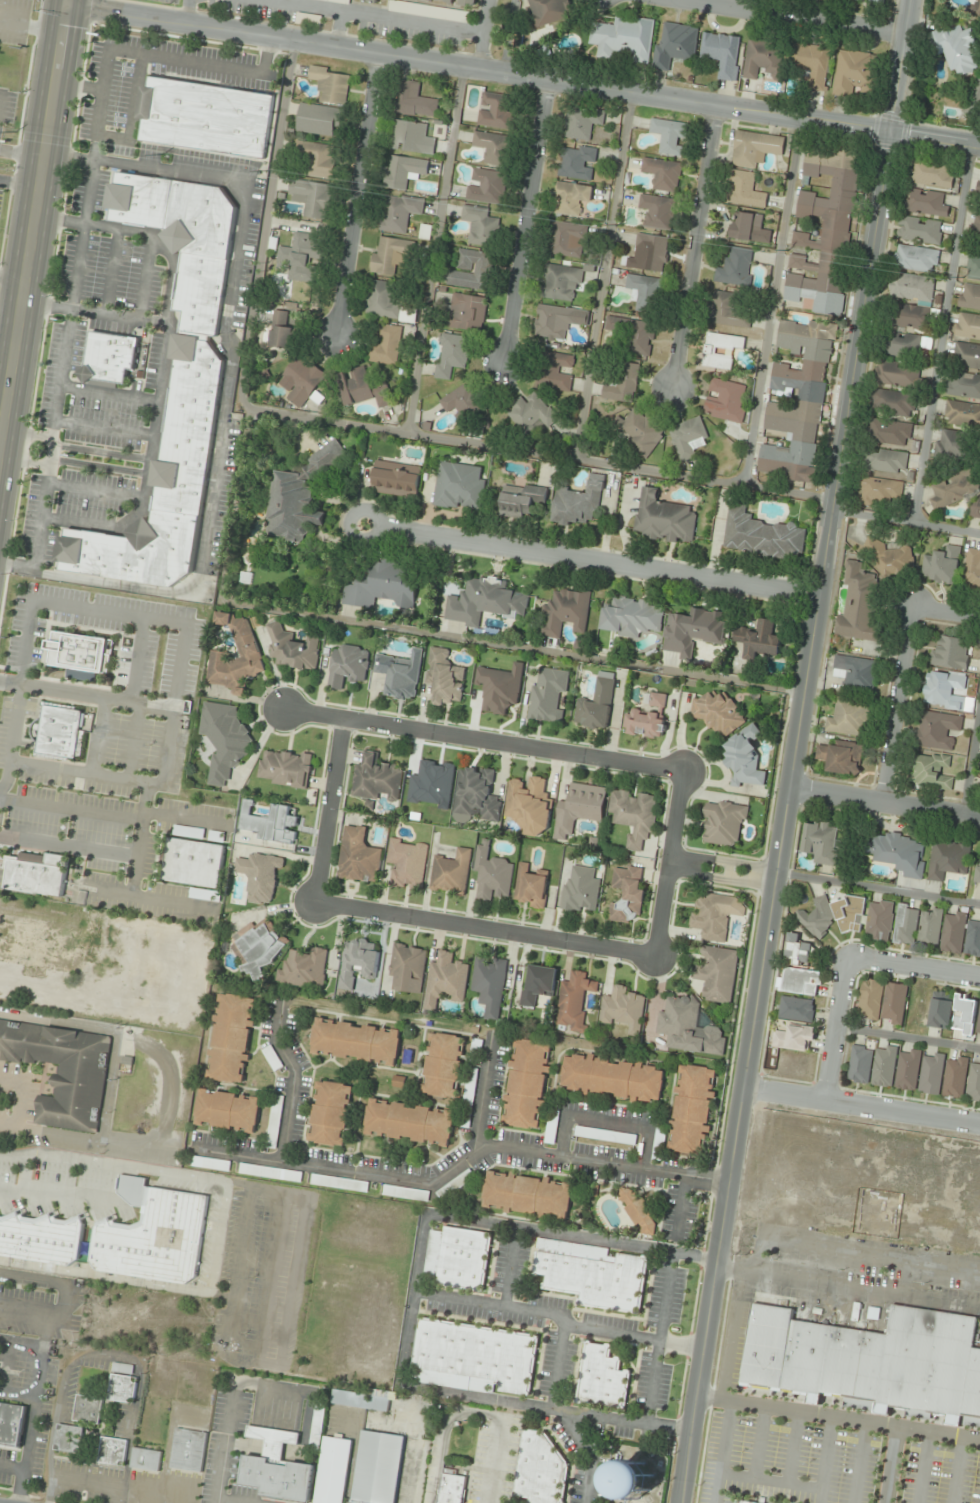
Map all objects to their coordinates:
building: (341, 1)
building: (373, 1)
building: (876, 1)
road: (62, 2)
building: (456, 2)
traffic signals: (70, 4)
building: (975, 8)
road: (187, 11)
building: (430, 11)
building: (549, 11)
road: (370, 17)
road: (801, 18)
road: (479, 35)
road: (502, 37)
building: (624, 38)
building: (676, 44)
building: (954, 49)
building: (723, 53)
building: (764, 59)
building: (813, 64)
building: (853, 72)
road: (524, 78)
building: (332, 84)
road: (80, 86)
road: (0, 95)
building: (973, 96)
building: (415, 101)
building: (496, 110)
road: (131, 114)
building: (204, 117)
building: (320, 120)
building: (582, 123)
building: (670, 136)
building: (411, 137)
building: (491, 147)
building: (756, 148)
road: (23, 153)
building: (319, 158)
building: (577, 162)
road: (145, 167)
building: (404, 171)
building: (662, 173)
building: (930, 174)
road: (20, 182)
building: (978, 184)
building: (488, 186)
building: (747, 190)
road: (355, 194)
building: (313, 197)
building: (572, 198)
building: (924, 202)
building: (658, 211)
building: (400, 212)
road: (523, 221)
building: (745, 224)
building: (481, 225)
building: (973, 227)
road: (35, 229)
road: (82, 229)
building: (918, 230)
building: (825, 233)
building: (568, 239)
road: (693, 247)
road: (435, 249)
building: (653, 251)
building: (391, 254)
building: (301, 258)
building: (914, 258)
building: (735, 267)
building: (973, 268)
building: (472, 270)
road: (110, 272)
road: (598, 274)
road: (14, 277)
road: (143, 277)
building: (560, 281)
building: (911, 287)
building: (645, 292)
building: (969, 297)
building: (384, 301)
road: (771, 302)
building: (729, 310)
building: (467, 312)
road: (94, 313)
building: (907, 317)
building: (554, 321)
building: (967, 326)
building: (281, 330)
building: (634, 334)
road: (937, 334)
building: (387, 345)
road: (8, 346)
building: (903, 346)
building: (721, 350)
building: (452, 355)
building: (966, 356)
building: (108, 358)
road: (163, 363)
building: (559, 371)
building: (897, 374)
building: (304, 381)
building: (623, 384)
building: (963, 385)
building: (362, 389)
road: (108, 395)
building: (725, 400)
building: (798, 401)
building: (465, 402)
building: (893, 403)
building: (192, 410)
building: (532, 413)
building: (961, 414)
road: (354, 421)
road: (102, 429)
road: (2, 430)
building: (642, 432)
building: (889, 432)
building: (688, 438)
building: (953, 446)
road: (75, 448)
building: (80, 449)
building: (885, 461)
road: (73, 463)
road: (214, 470)
building: (394, 479)
building: (456, 486)
building: (879, 489)
building: (951, 489)
road: (94, 492)
building: (297, 496)
building: (520, 498)
building: (576, 501)
building: (973, 508)
building: (662, 517)
building: (979, 521)
road: (905, 522)
building: (761, 535)
building: (889, 557)
road: (589, 561)
building: (940, 565)
building: (971, 568)
building: (381, 586)
building: (483, 601)
road: (55, 603)
building: (858, 604)
building: (565, 611)
road: (948, 611)
building: (629, 616)
building: (690, 631)
building: (757, 638)
road: (515, 645)
building: (290, 648)
building: (80, 651)
building: (950, 652)
building: (249, 654)
road: (136, 660)
building: (346, 665)
building: (853, 672)
building: (397, 673)
building: (442, 677)
building: (498, 687)
building: (943, 689)
building: (547, 695)
road: (86, 696)
building: (595, 703)
road: (899, 703)
building: (716, 712)
building: (848, 716)
building: (646, 718)
building: (936, 729)
building: (60, 730)
road: (99, 737)
building: (223, 739)
road: (487, 740)
road: (133, 742)
road: (795, 751)
parking lot: (99, 753)
road: (968, 753)
building: (840, 755)
building: (743, 757)
building: (284, 768)
building: (930, 770)
building: (374, 778)
road: (120, 779)
building: (979, 789)
building: (472, 797)
road: (884, 801)
building: (527, 805)
building: (577, 808)
road: (70, 811)
road: (327, 812)
building: (632, 815)
road: (185, 819)
road: (681, 820)
building: (723, 821)
building: (268, 823)
building: (189, 831)
road: (138, 838)
building: (820, 840)
road: (67, 847)
building: (896, 853)
building: (357, 856)
road: (701, 857)
building: (946, 858)
building: (405, 863)
road: (753, 865)
building: (194, 866)
road: (726, 869)
building: (976, 869)
building: (37, 872)
building: (450, 872)
building: (490, 873)
road: (698, 873)
building: (258, 876)
road: (750, 880)
building: (529, 886)
building: (579, 889)
road: (878, 889)
building: (625, 894)
road: (149, 897)
building: (845, 913)
road: (666, 915)
building: (714, 915)
building: (815, 918)
building: (878, 920)
building: (905, 924)
building: (928, 926)
building: (952, 931)
road: (485, 932)
building: (972, 938)
building: (39, 940)
building: (256, 947)
building: (796, 949)
building: (356, 962)
building: (303, 967)
building: (405, 967)
road: (913, 969)
building: (716, 973)
building: (444, 979)
building: (798, 981)
building: (488, 984)
building: (537, 984)
building: (869, 998)
building: (573, 1000)
building: (893, 1002)
building: (621, 1009)
building: (795, 1009)
building: (939, 1009)
building: (963, 1014)
building: (977, 1018)
building: (687, 1027)
road: (835, 1030)
building: (793, 1037)
building: (231, 1038)
road: (908, 1038)
building: (356, 1041)
building: (273, 1058)
building: (858, 1064)
building: (443, 1065)
building: (883, 1066)
building: (906, 1069)
building: (62, 1070)
building: (930, 1073)
road: (291, 1076)
building: (612, 1077)
building: (954, 1077)
building: (973, 1082)
building: (527, 1083)
road: (481, 1088)
road: (861, 1107)
building: (693, 1109)
building: (228, 1111)
building: (331, 1113)
road: (607, 1120)
building: (409, 1122)
building: (552, 1126)
building: (606, 1136)
building: (660, 1142)
road: (64, 1158)
road: (457, 1158)
building: (211, 1164)
building: (254, 1170)
road: (129, 1172)
road: (22, 1173)
road: (178, 1175)
parking lot: (60, 1183)
building: (340, 1183)
road: (126, 1187)
road: (61, 1192)
building: (528, 1194)
road: (680, 1210)
building: (638, 1213)
building: (151, 1234)
building: (41, 1237)
road: (218, 1238)
road: (241, 1241)
building: (457, 1258)
parking lot: (252, 1264)
road: (508, 1267)
building: (592, 1274)
road: (269, 1276)
road: (105, 1277)
road: (411, 1296)
road: (64, 1297)
road: (288, 1307)
road: (557, 1320)
road: (657, 1338)
road: (7, 1351)
building: (474, 1358)
building: (869, 1358)
building: (602, 1378)
building: (122, 1383)
road: (17, 1396)
building: (361, 1399)
road: (32, 1407)
building: (88, 1409)
road: (562, 1418)
road: (831, 1418)
building: (11, 1425)
road: (441, 1429)
building: (69, 1439)
building: (187, 1449)
building: (113, 1451)
road: (723, 1453)
building: (145, 1460)
road: (494, 1466)
building: (278, 1467)
building: (378, 1467)
road: (11, 1468)
building: (541, 1469)
building: (333, 1470)
water tower: (633, 1479)
building: (633, 1480)
building: (450, 1487)
building: (745, 1502)

